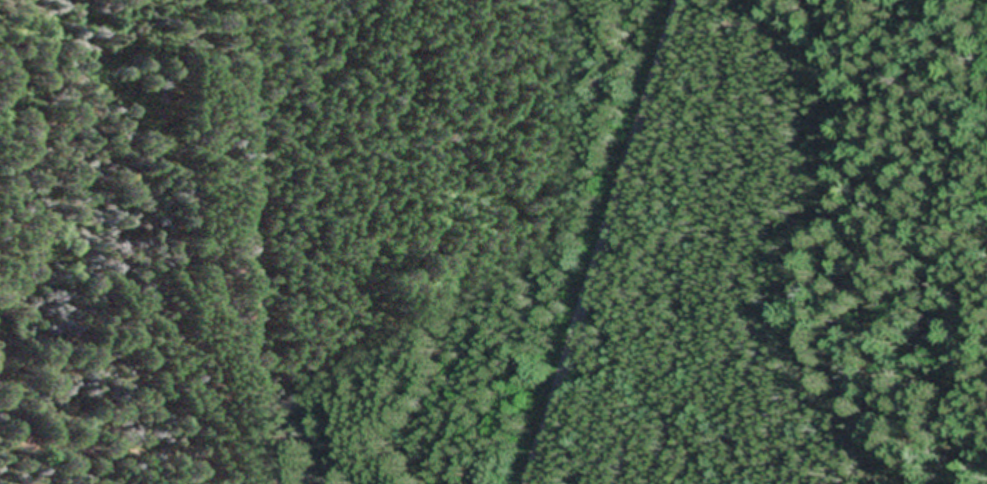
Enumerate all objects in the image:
road: (608, 242)

